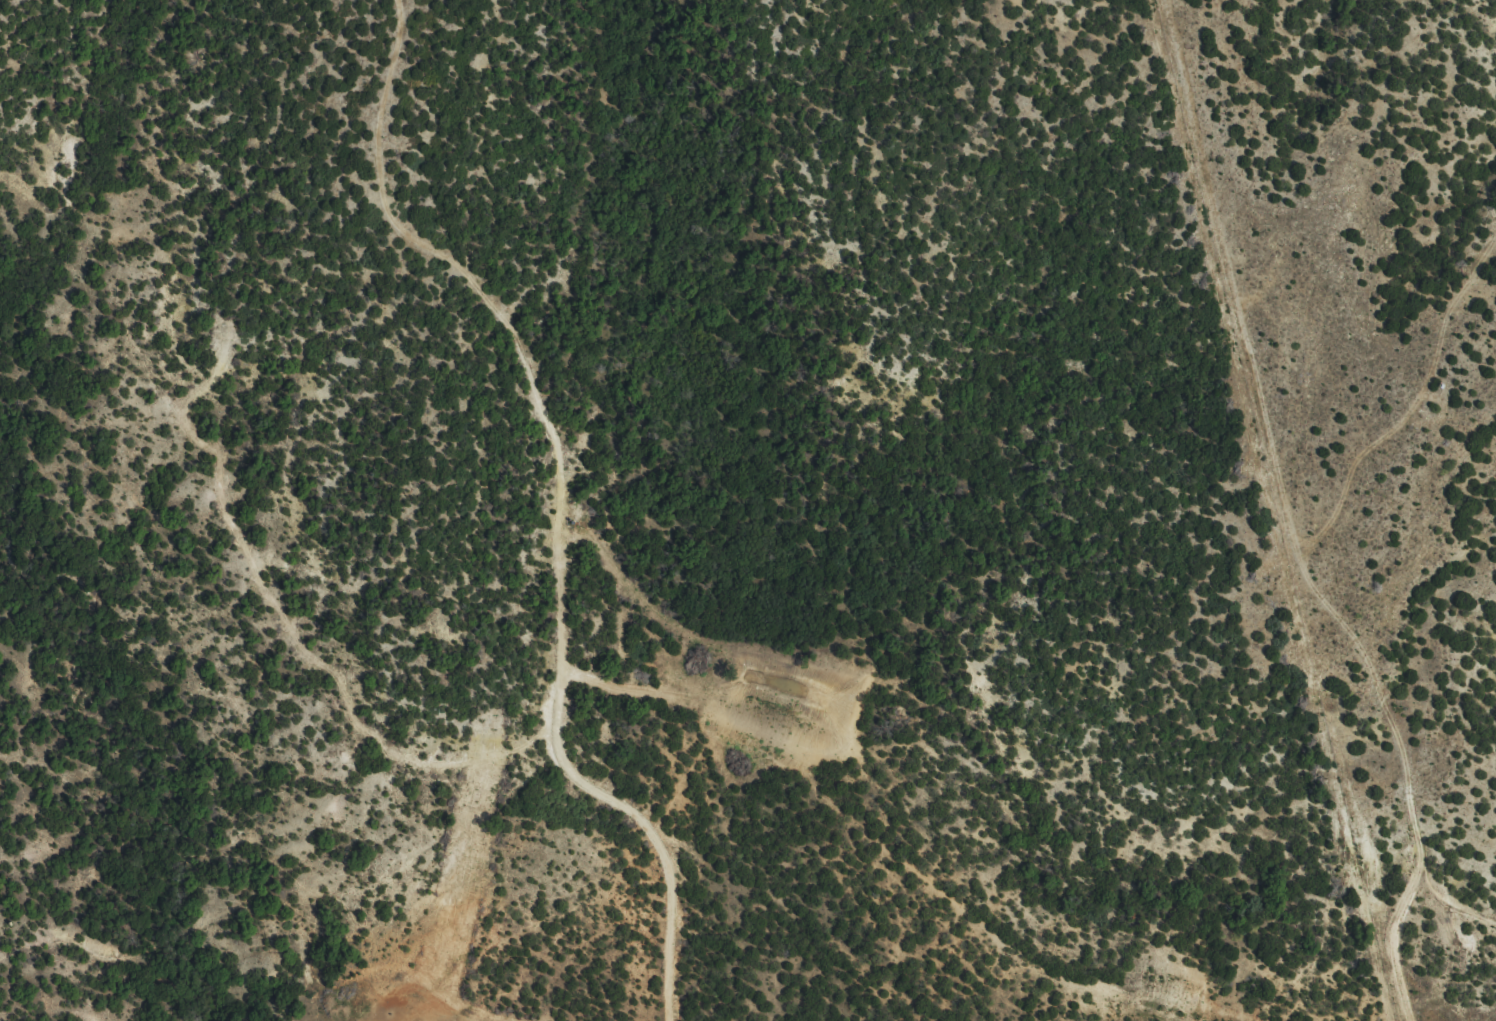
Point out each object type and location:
road: (1279, 508)

